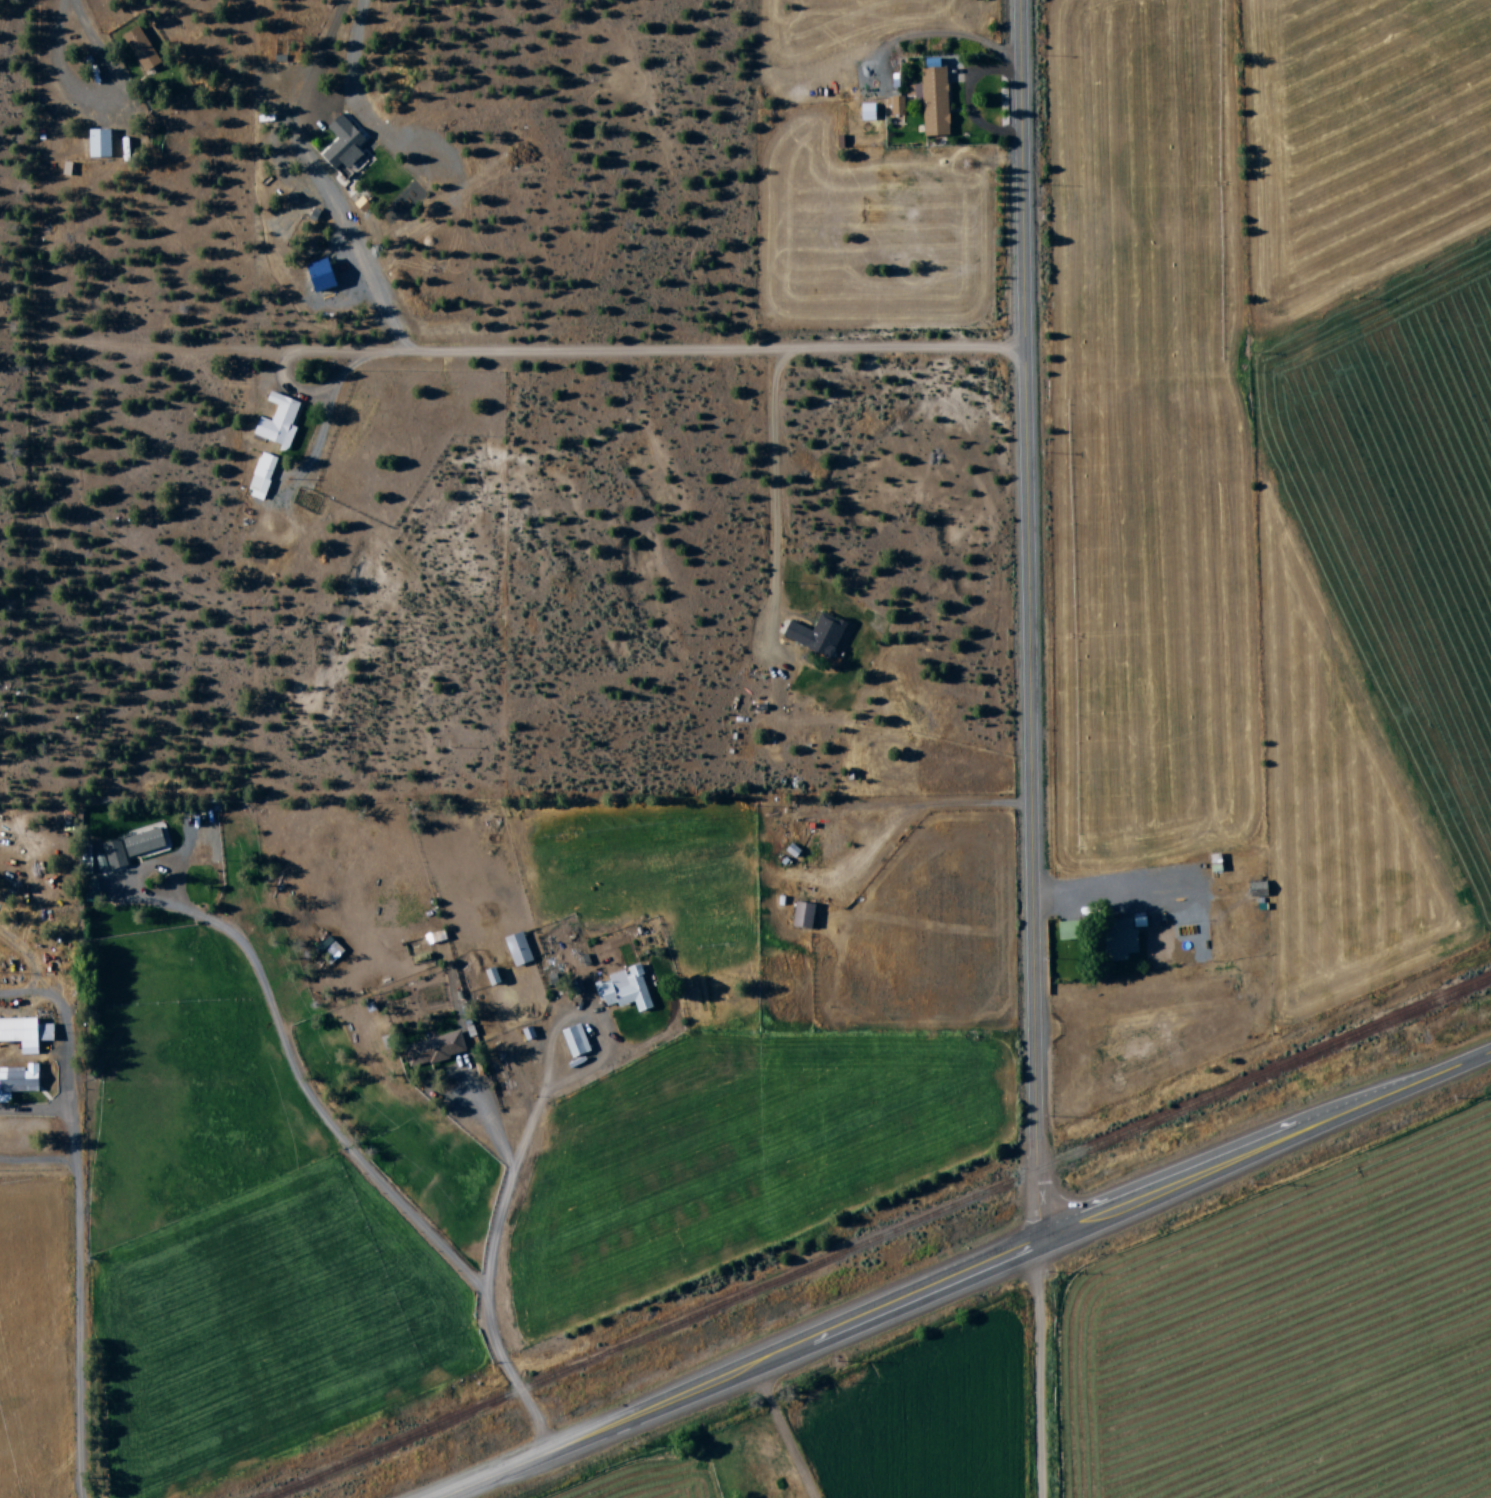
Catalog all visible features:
building: (139, 49)
building: (933, 102)
building: (896, 105)
building: (865, 113)
building: (96, 144)
building: (341, 145)
building: (317, 276)
road: (671, 354)
building: (276, 423)
building: (260, 477)
road: (1030, 623)
building: (815, 636)
building: (126, 850)
building: (801, 916)
building: (1064, 930)
building: (1118, 939)
building: (516, 949)
building: (327, 950)
building: (489, 976)
building: (622, 990)
building: (27, 1033)
building: (573, 1040)
building: (432, 1049)
building: (19, 1081)
road: (316, 1104)
road: (1264, 1152)
railway: (879, 1239)
road: (483, 1275)
road: (77, 1287)
road: (745, 1373)
road: (1037, 1373)

